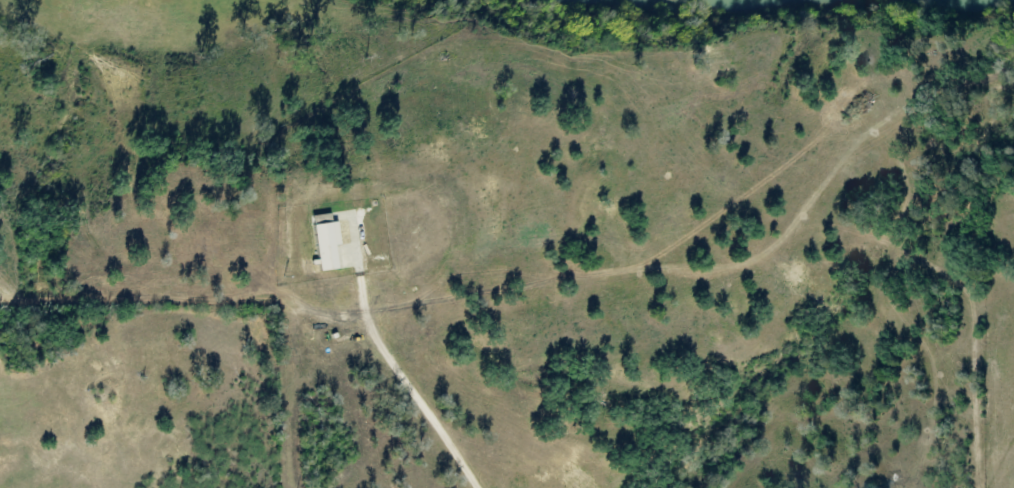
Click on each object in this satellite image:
building: (326, 244)

